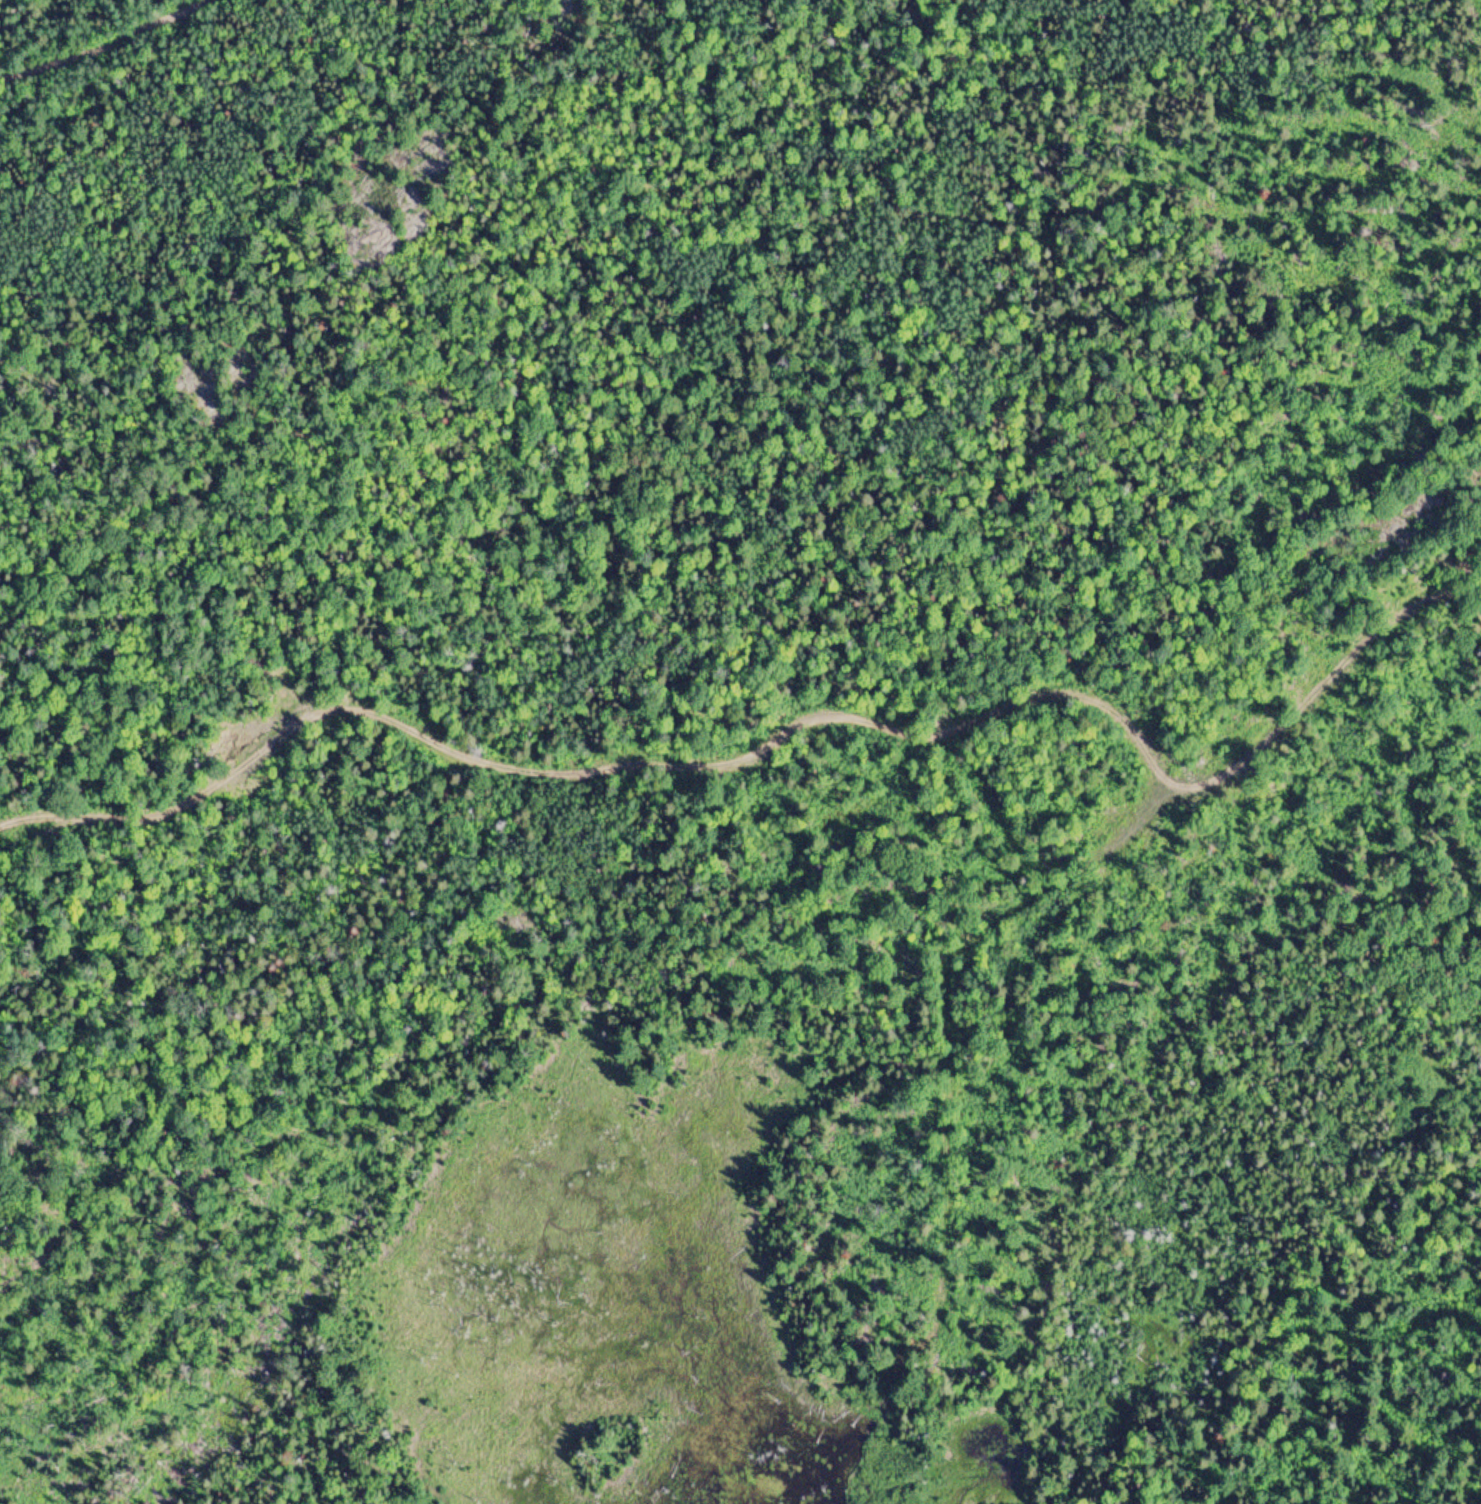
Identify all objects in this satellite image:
road: (99, 42)

